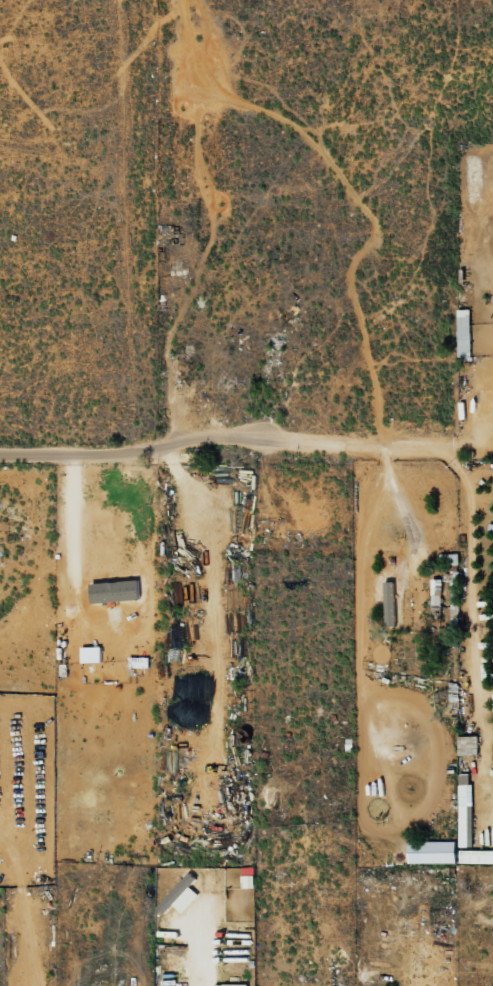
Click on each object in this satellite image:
building: (464, 333)
road: (223, 436)
building: (115, 591)
road: (11, 599)
building: (407, 607)
building: (439, 852)
building: (476, 856)
building: (248, 877)
building: (181, 895)
building: (232, 984)

